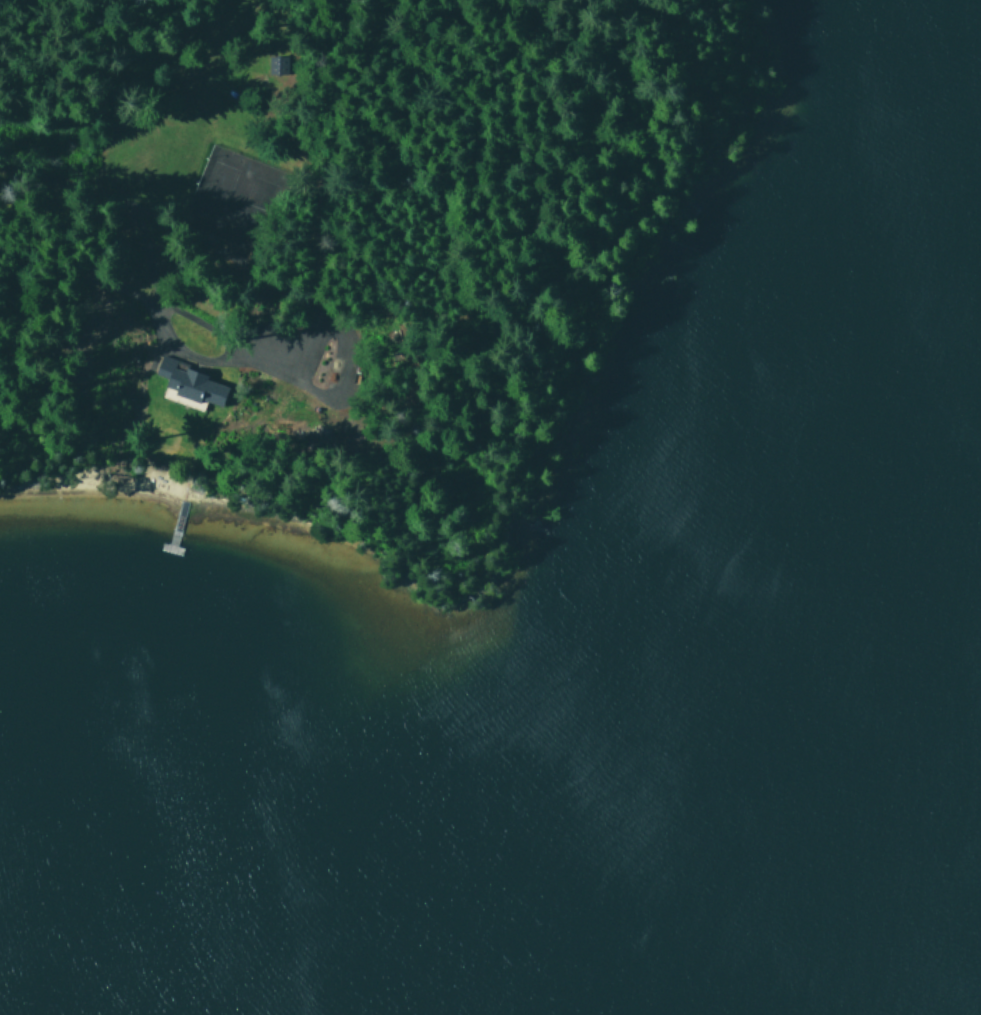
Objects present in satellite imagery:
road: (333, 281)
building: (188, 382)

